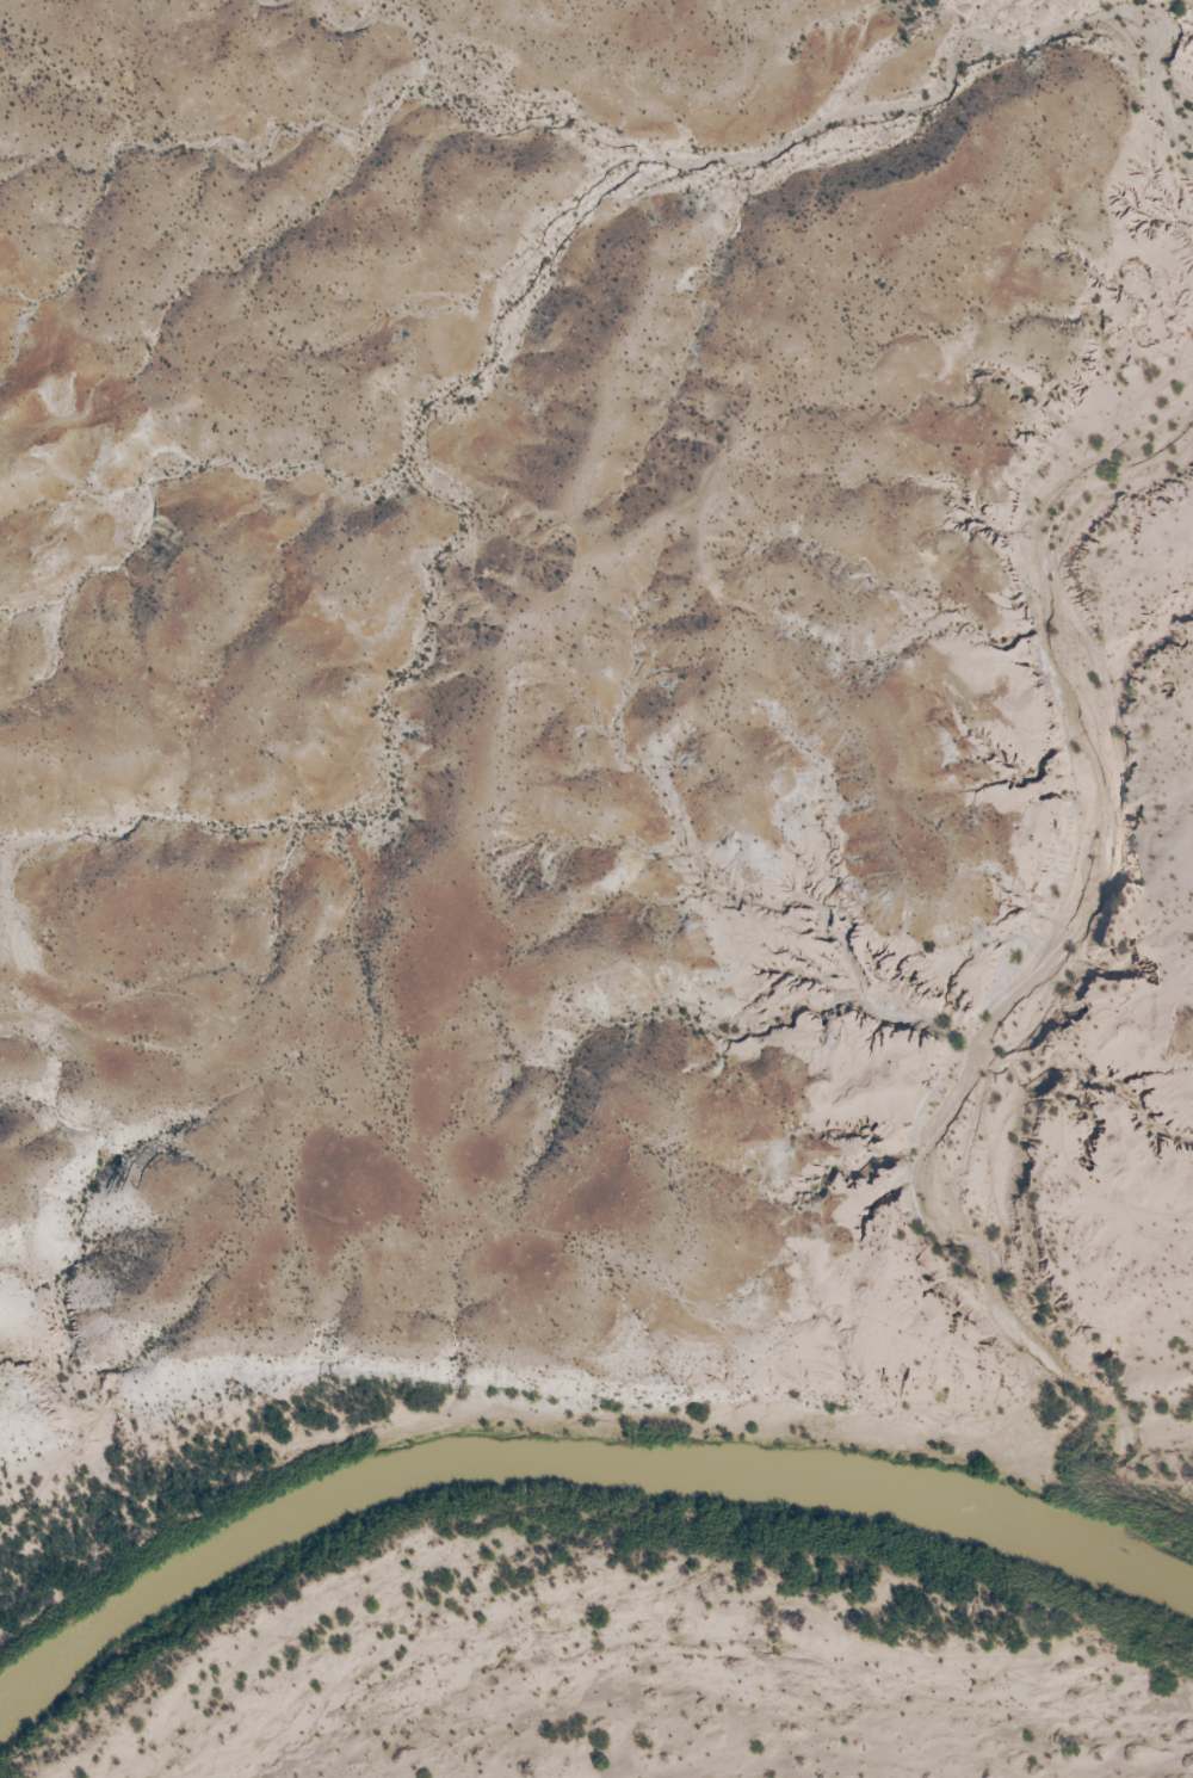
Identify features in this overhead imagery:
river: (567, 1462)

